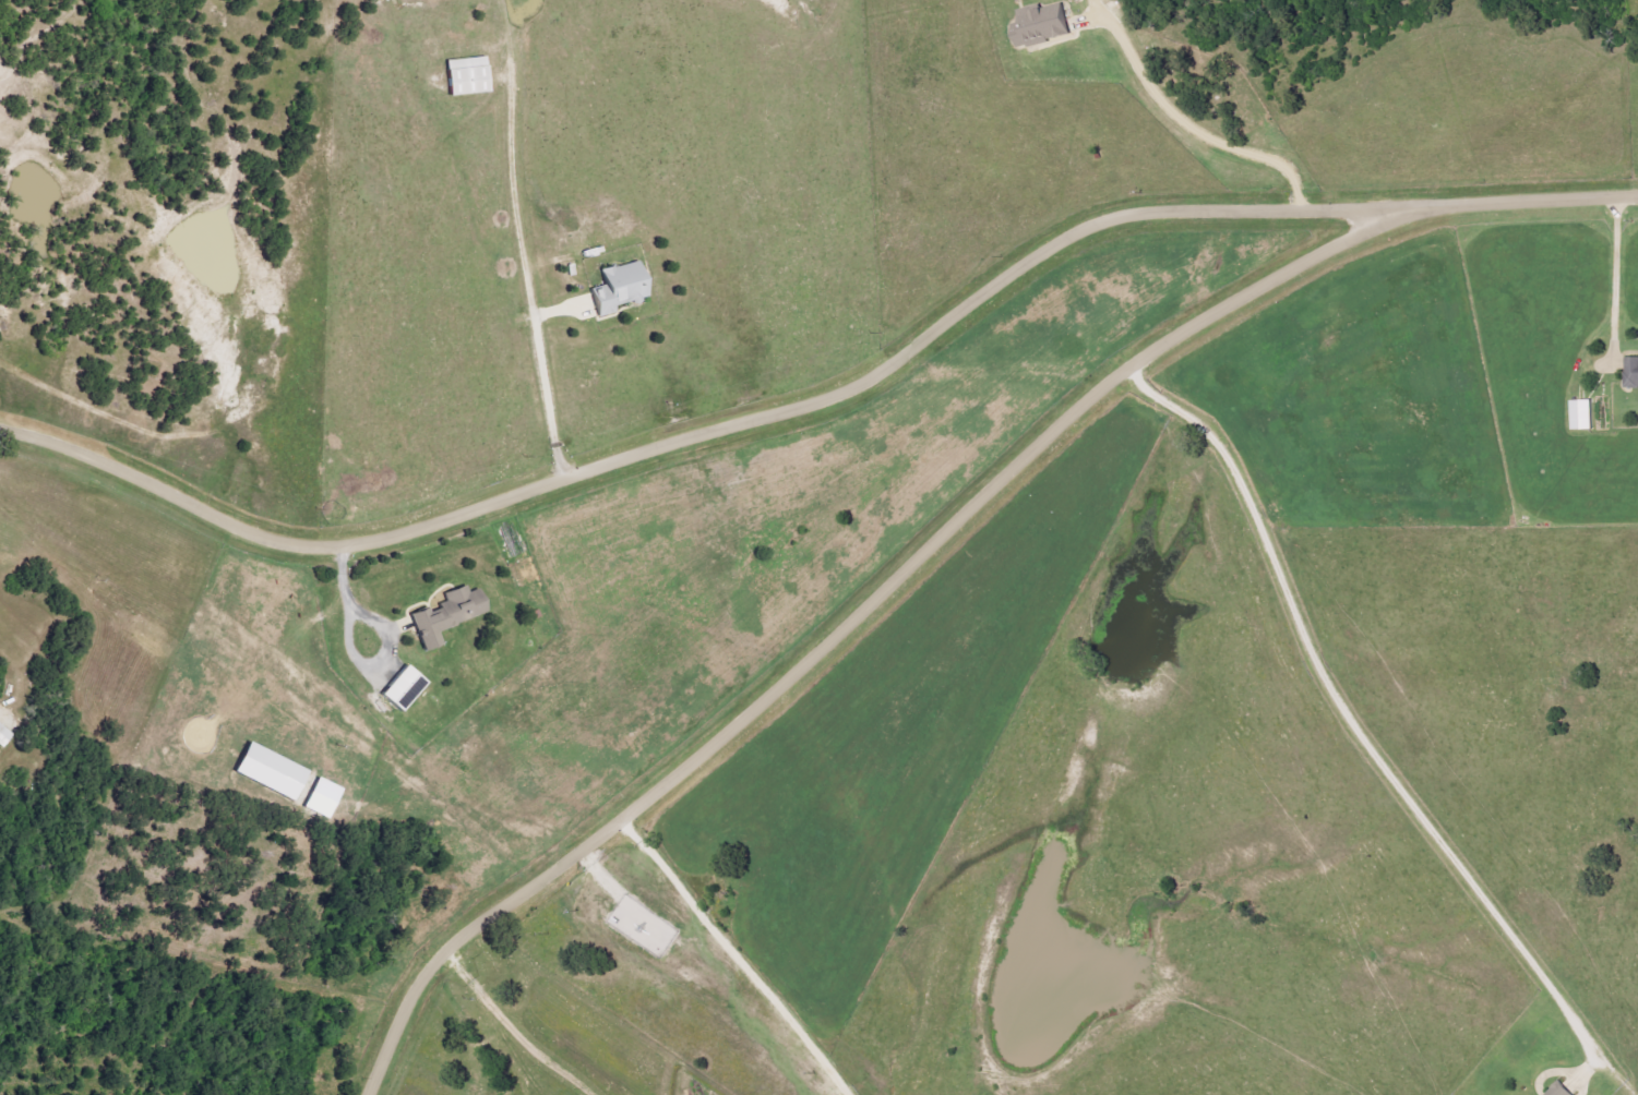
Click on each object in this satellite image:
building: (1047, 25)
building: (469, 75)
building: (621, 287)
building: (1633, 373)
road: (823, 398)
building: (1586, 414)
road: (862, 606)
building: (449, 615)
building: (405, 688)
building: (4, 736)
building: (273, 771)
building: (324, 798)
building: (1563, 1090)

